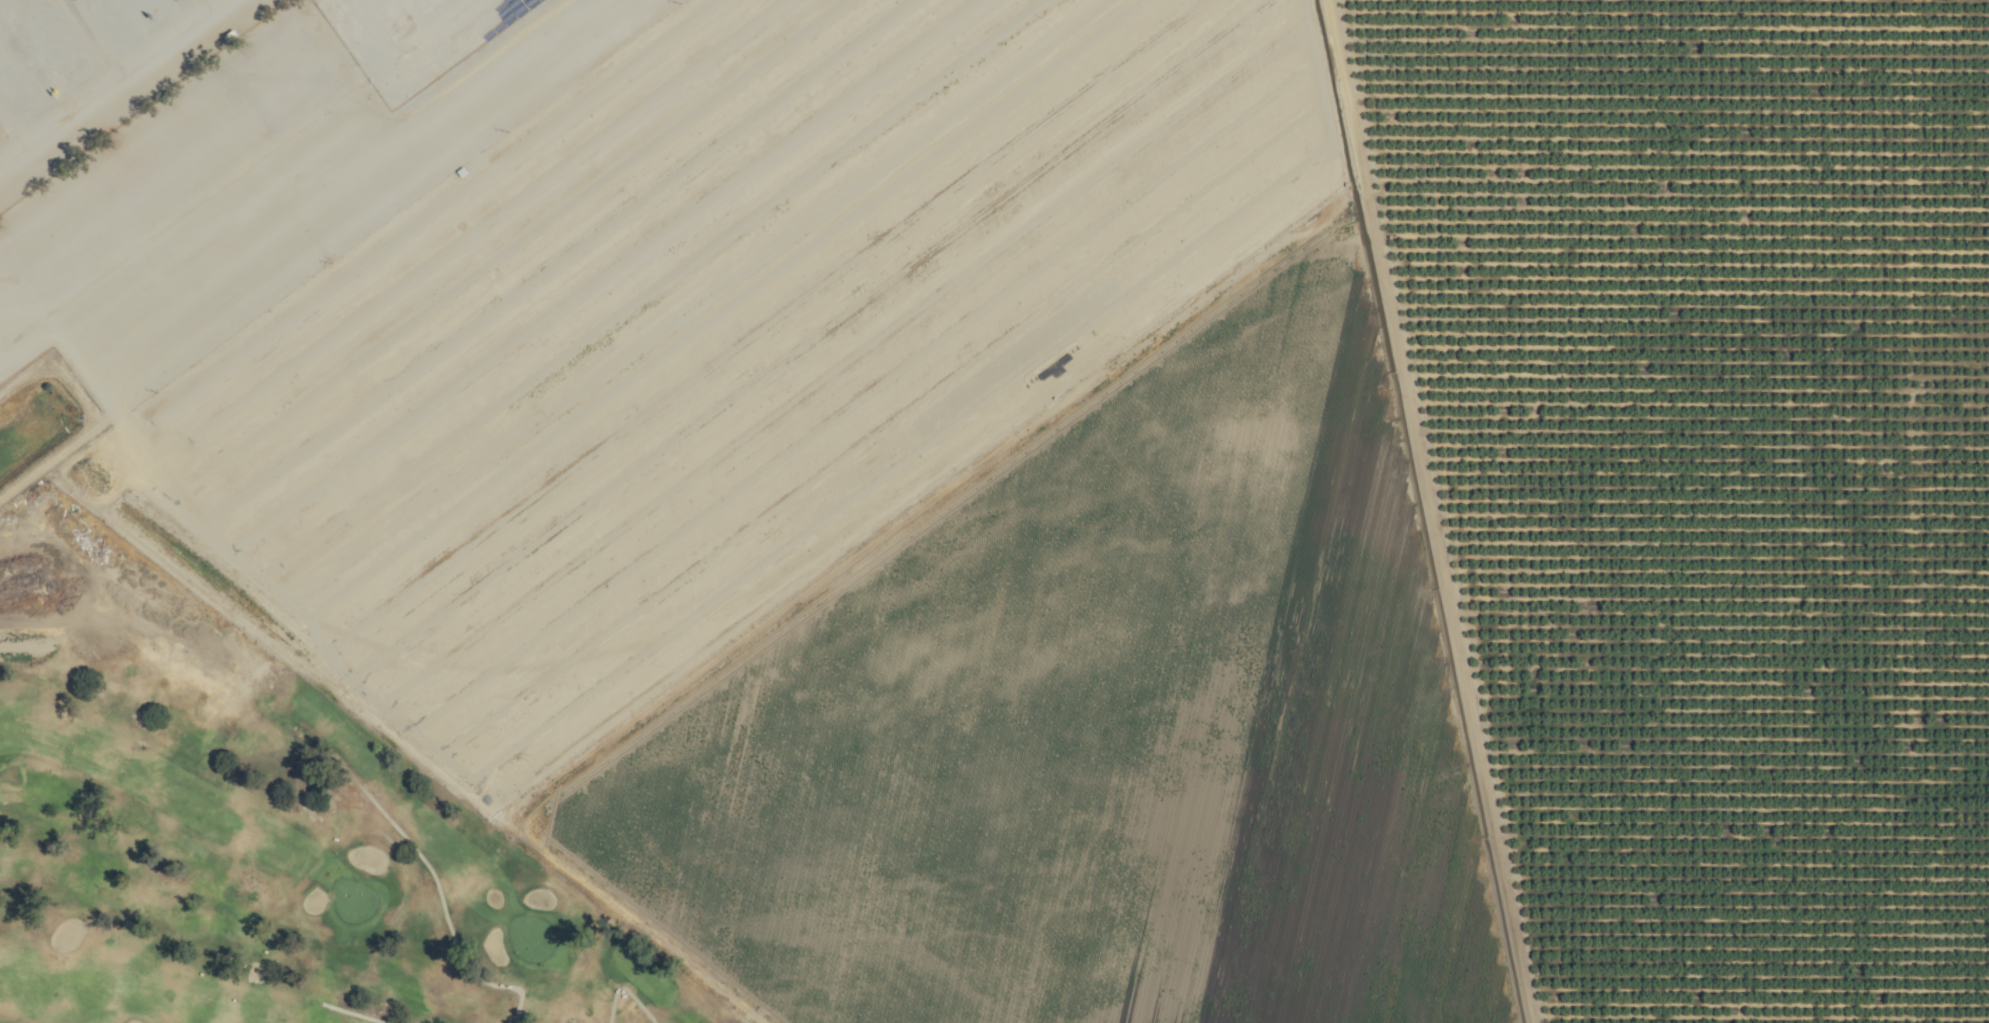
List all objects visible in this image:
road: (115, 86)
crop: (1283, 547)
park: (262, 837)

